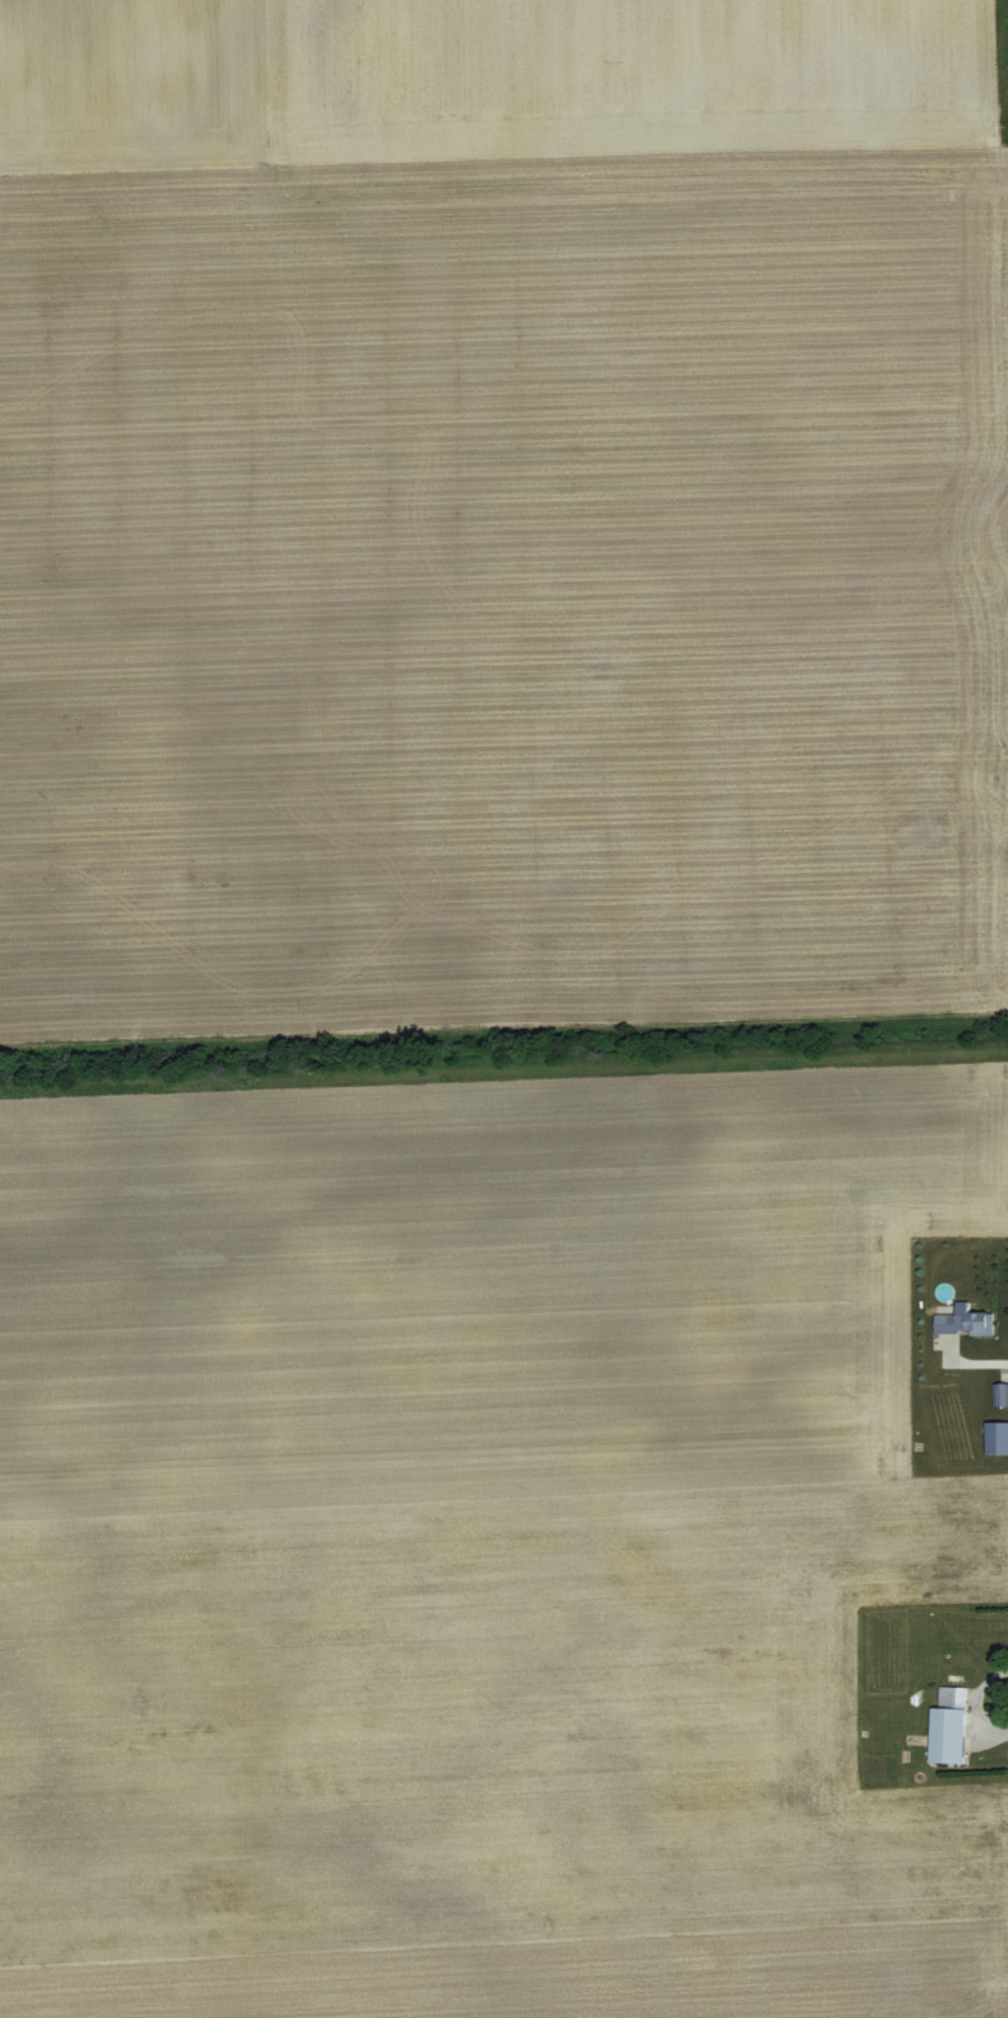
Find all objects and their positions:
crop: (504, 1009)
building: (968, 1317)
road: (983, 1358)
building: (1007, 1392)
building: (952, 1722)

